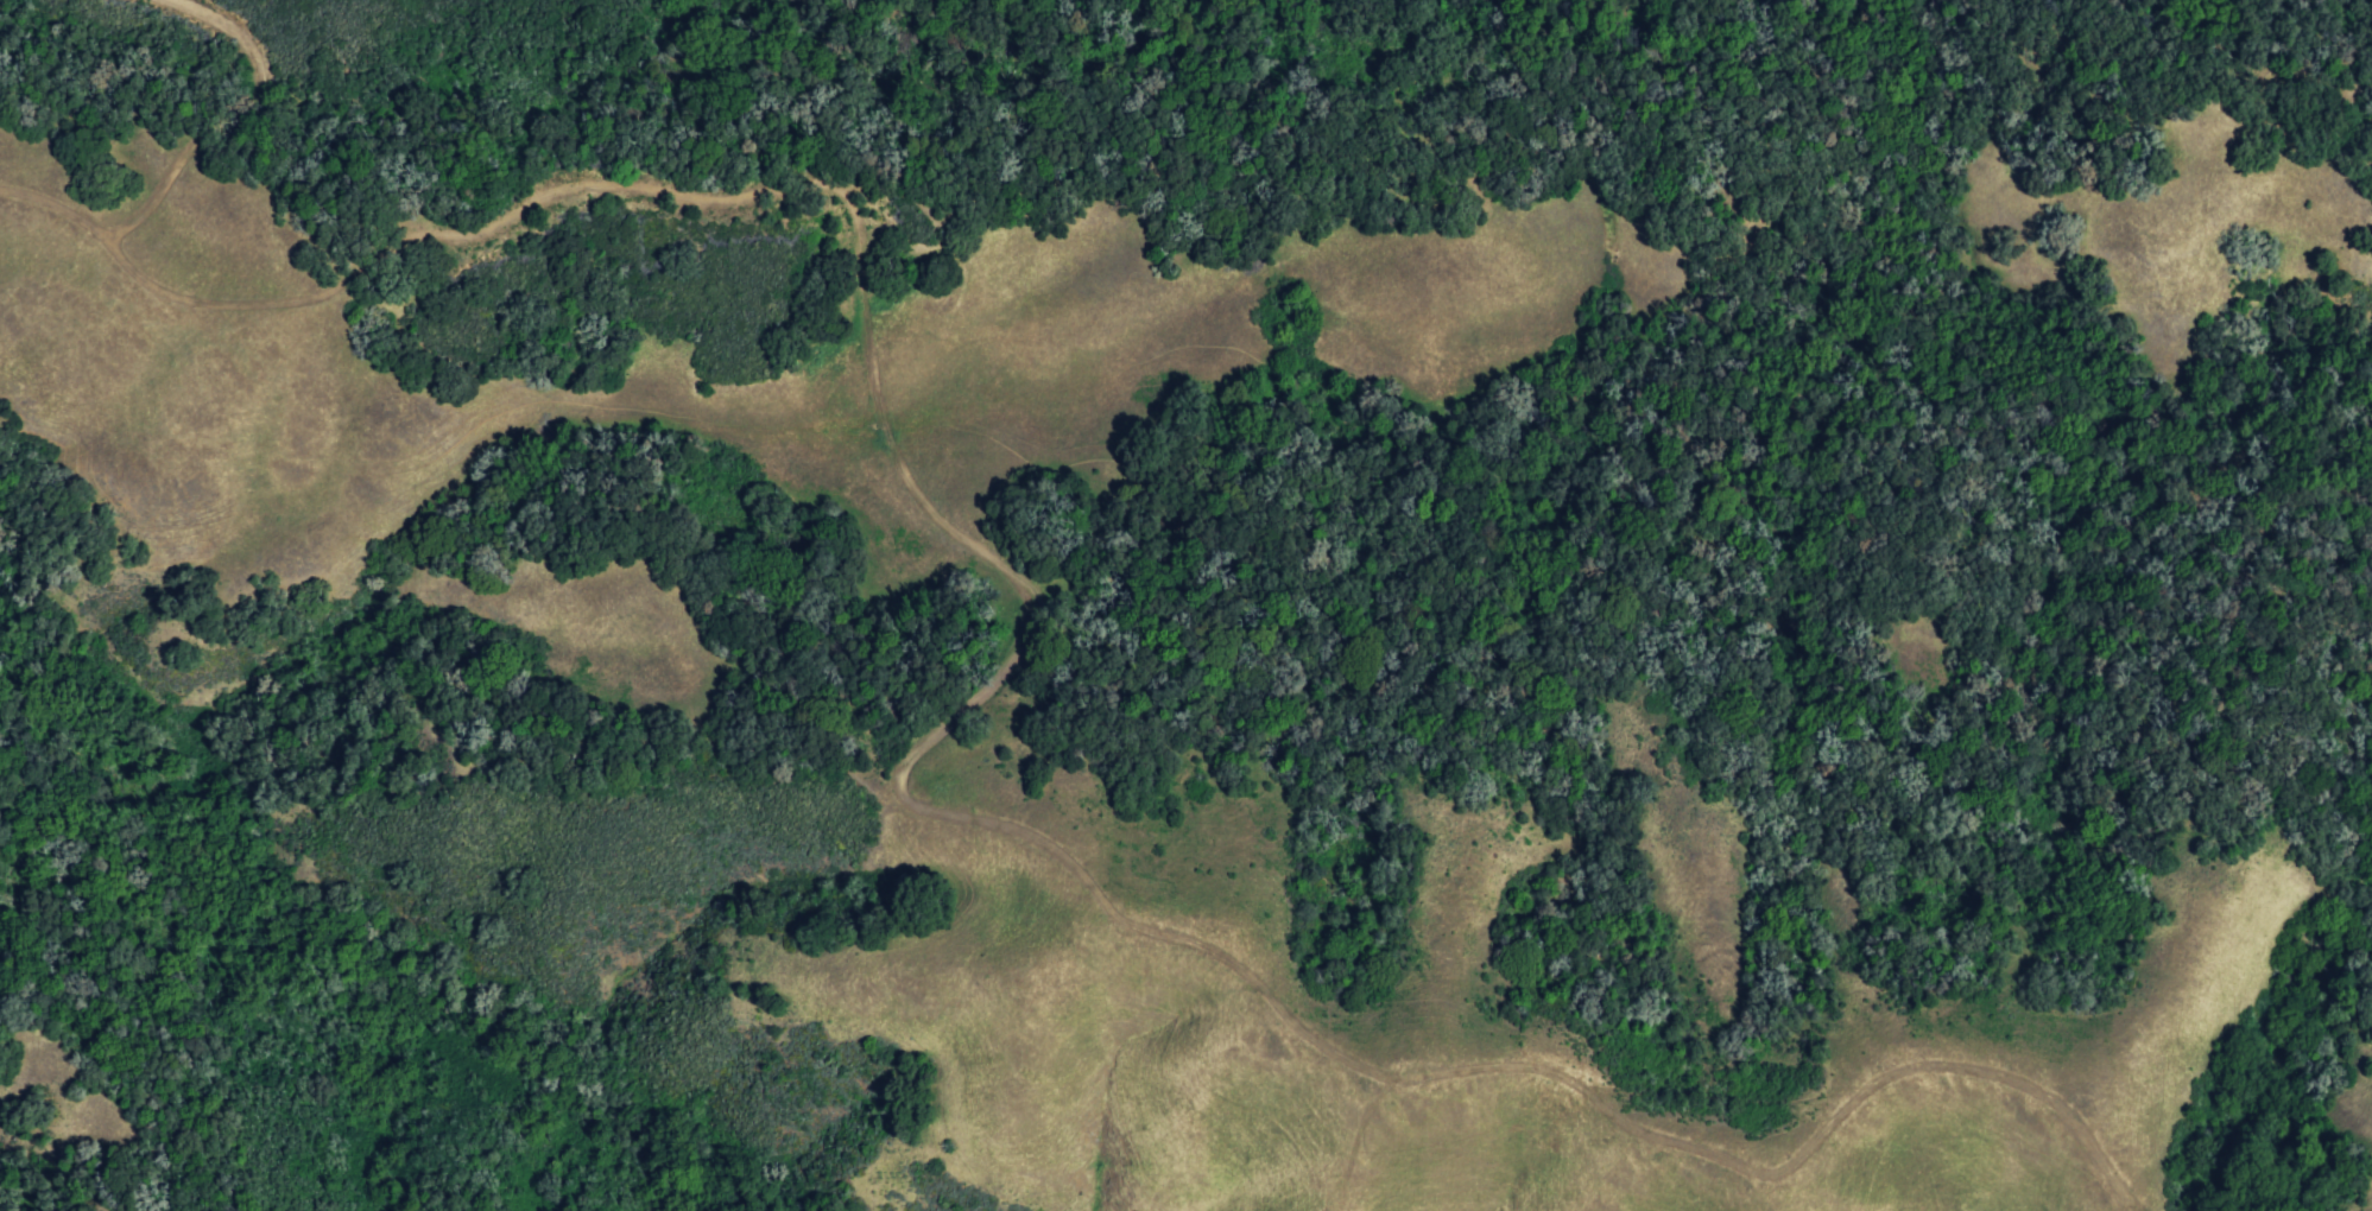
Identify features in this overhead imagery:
road: (229, 112)
road: (949, 729)
road: (1356, 1149)

